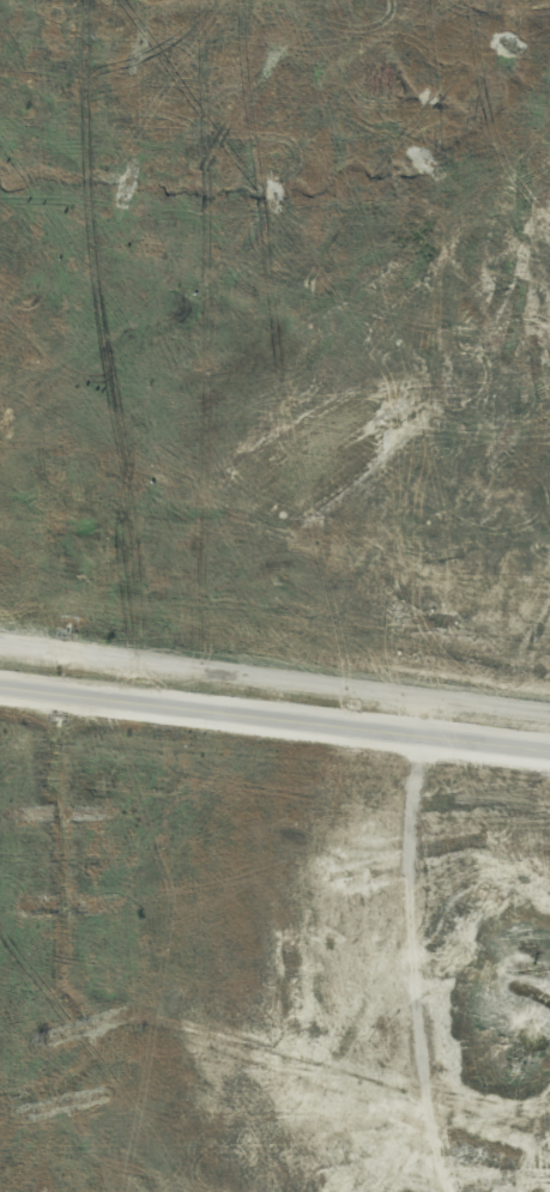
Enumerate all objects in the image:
road: (274, 678)
road: (274, 720)
road: (411, 945)

